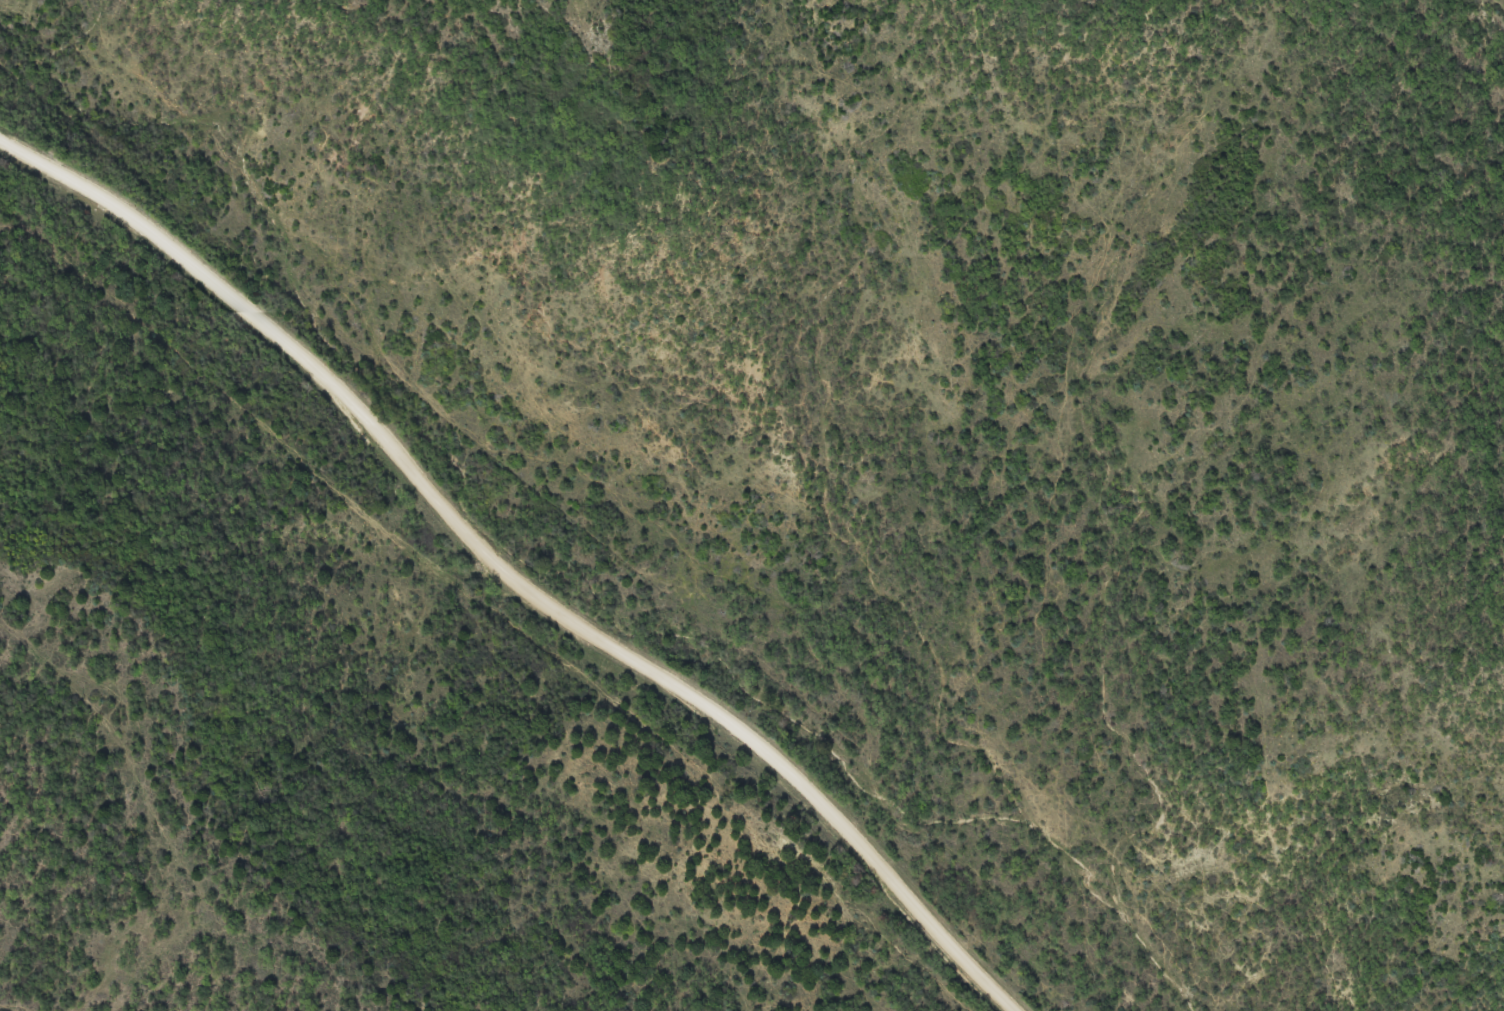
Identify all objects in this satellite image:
road: (508, 574)

